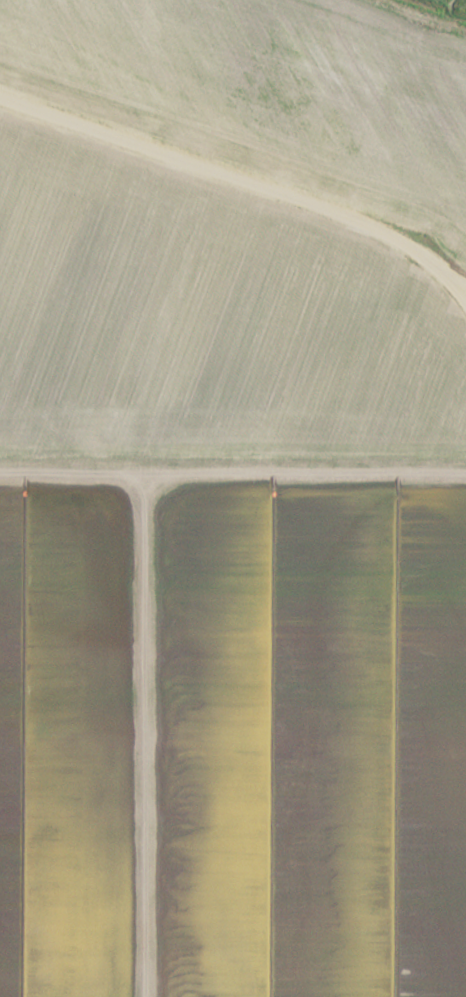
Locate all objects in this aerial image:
road: (245, 187)
road: (461, 290)

